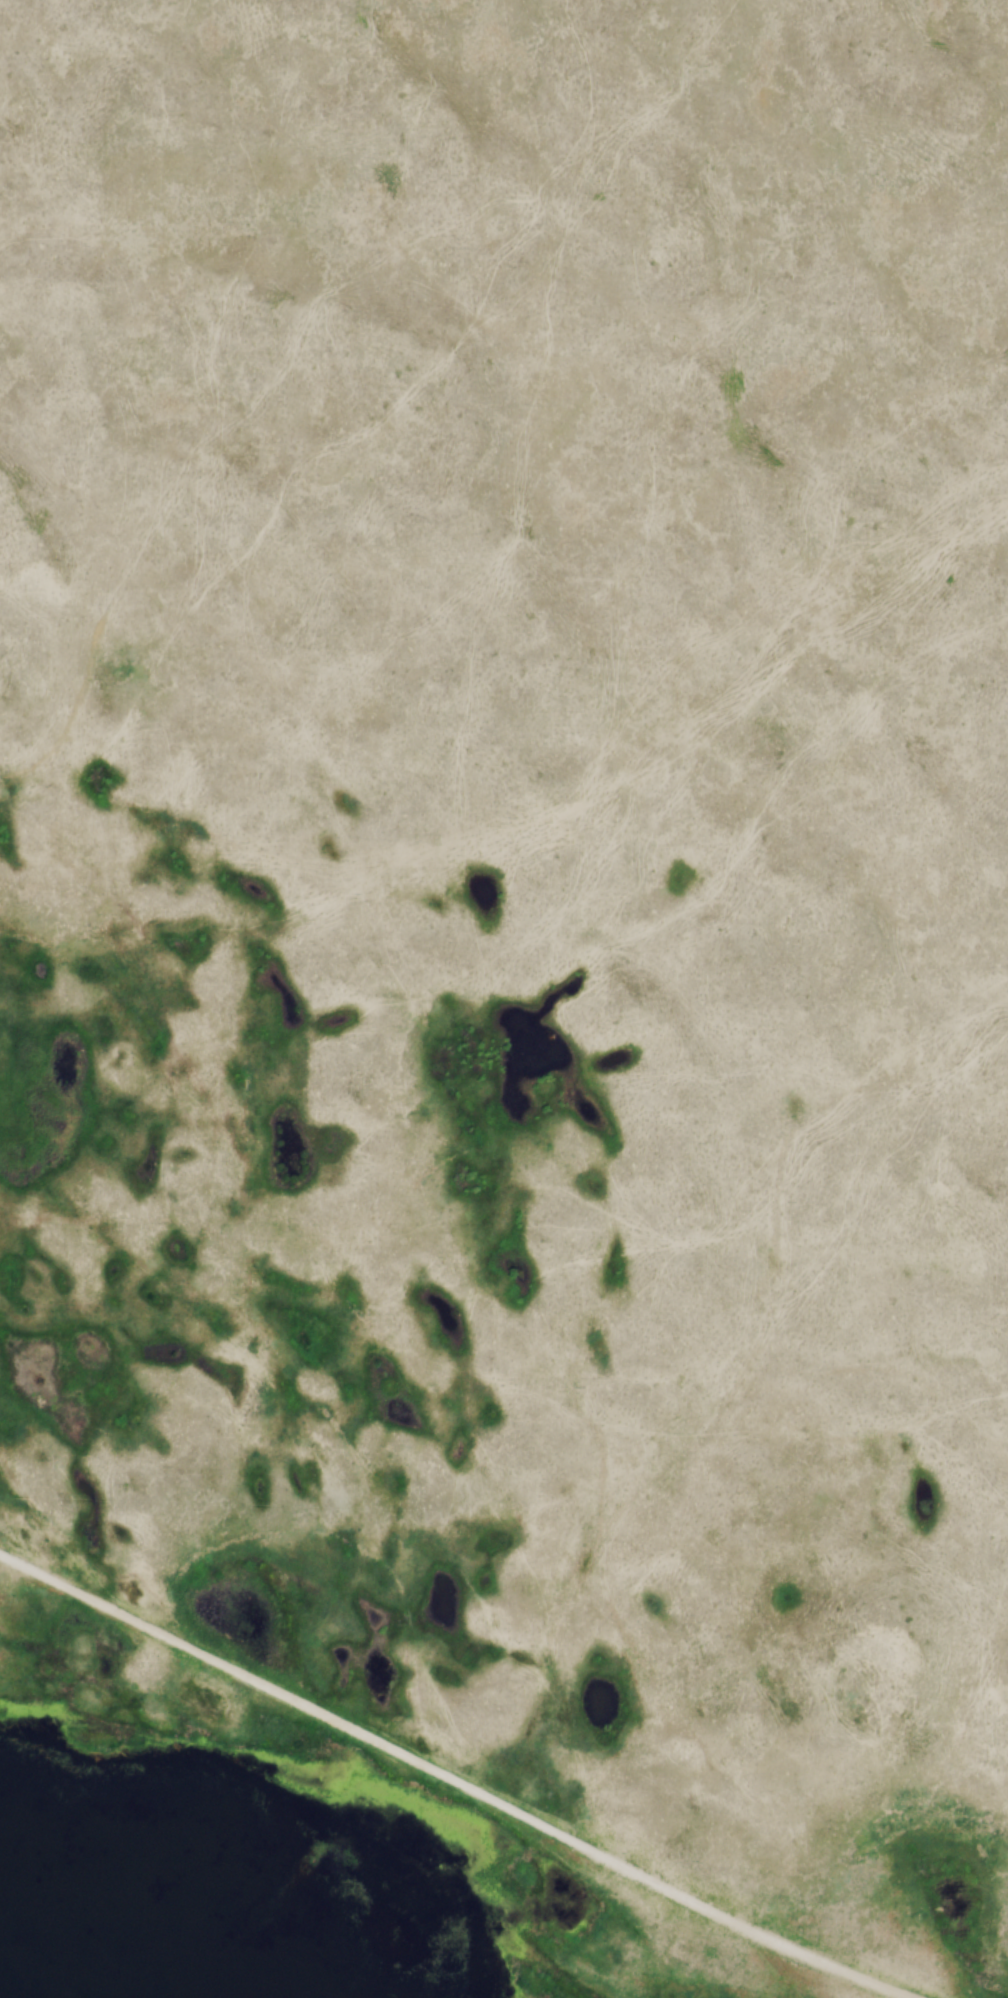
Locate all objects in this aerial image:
road: (462, 1780)

